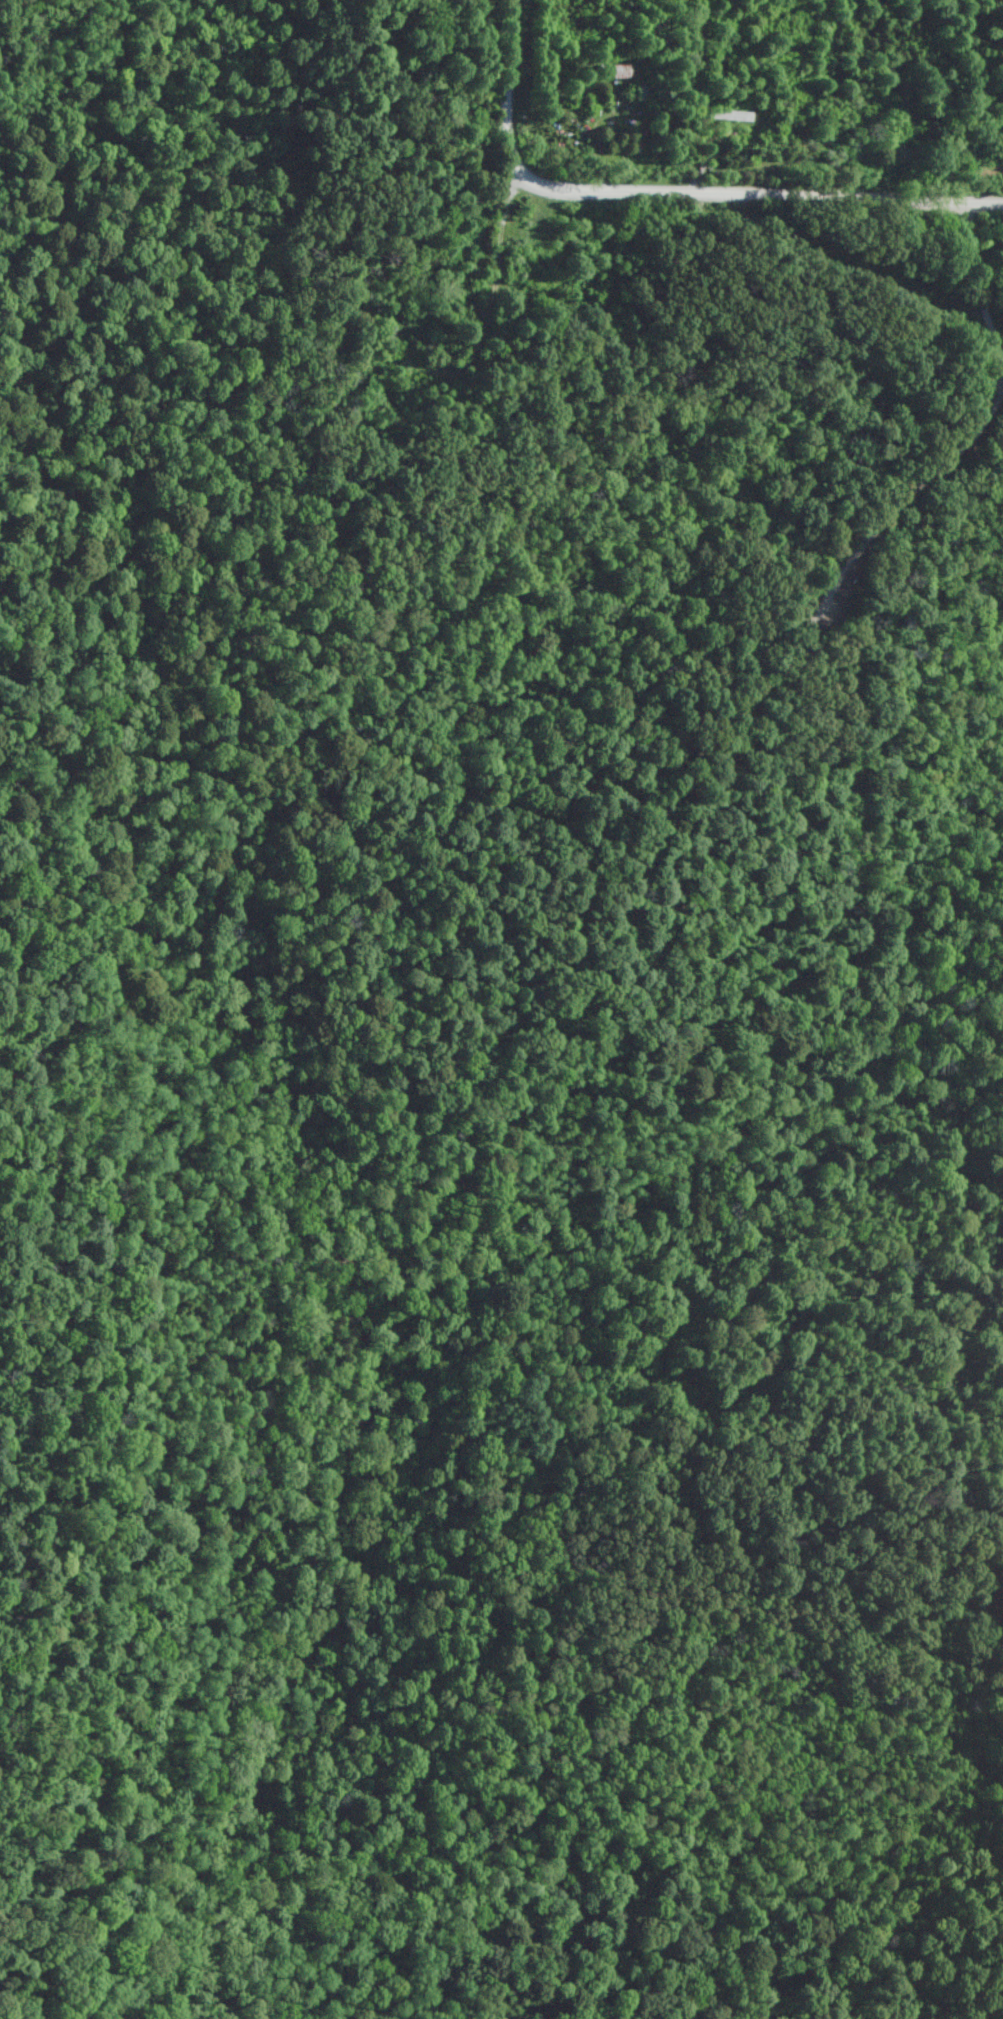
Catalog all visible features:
building: (620, 72)
building: (729, 116)
road: (663, 187)
road: (941, 464)

